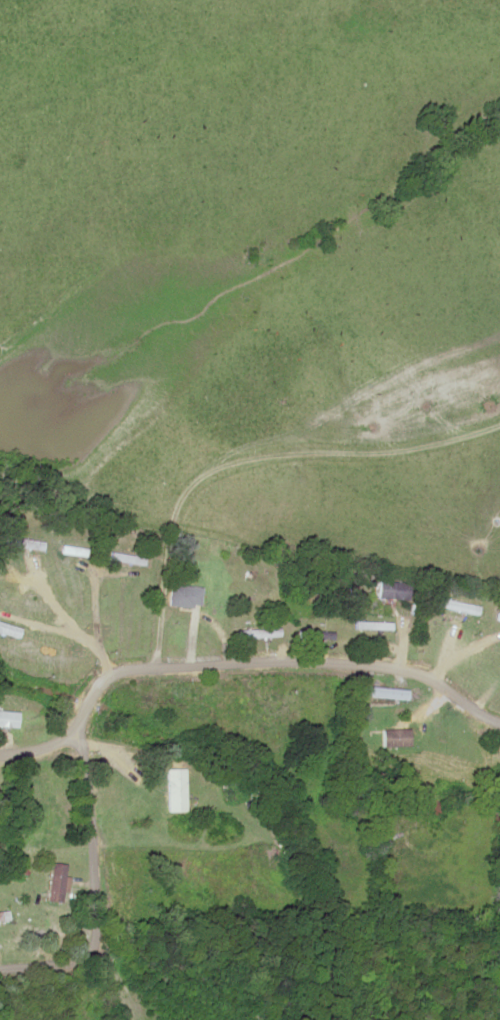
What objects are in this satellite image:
building: (392, 588)
building: (184, 594)
building: (459, 606)
building: (372, 624)
building: (256, 632)
road: (270, 660)
building: (383, 691)
building: (8, 718)
building: (395, 730)
road: (32, 746)
road: (91, 841)
building: (56, 882)
road: (48, 955)

